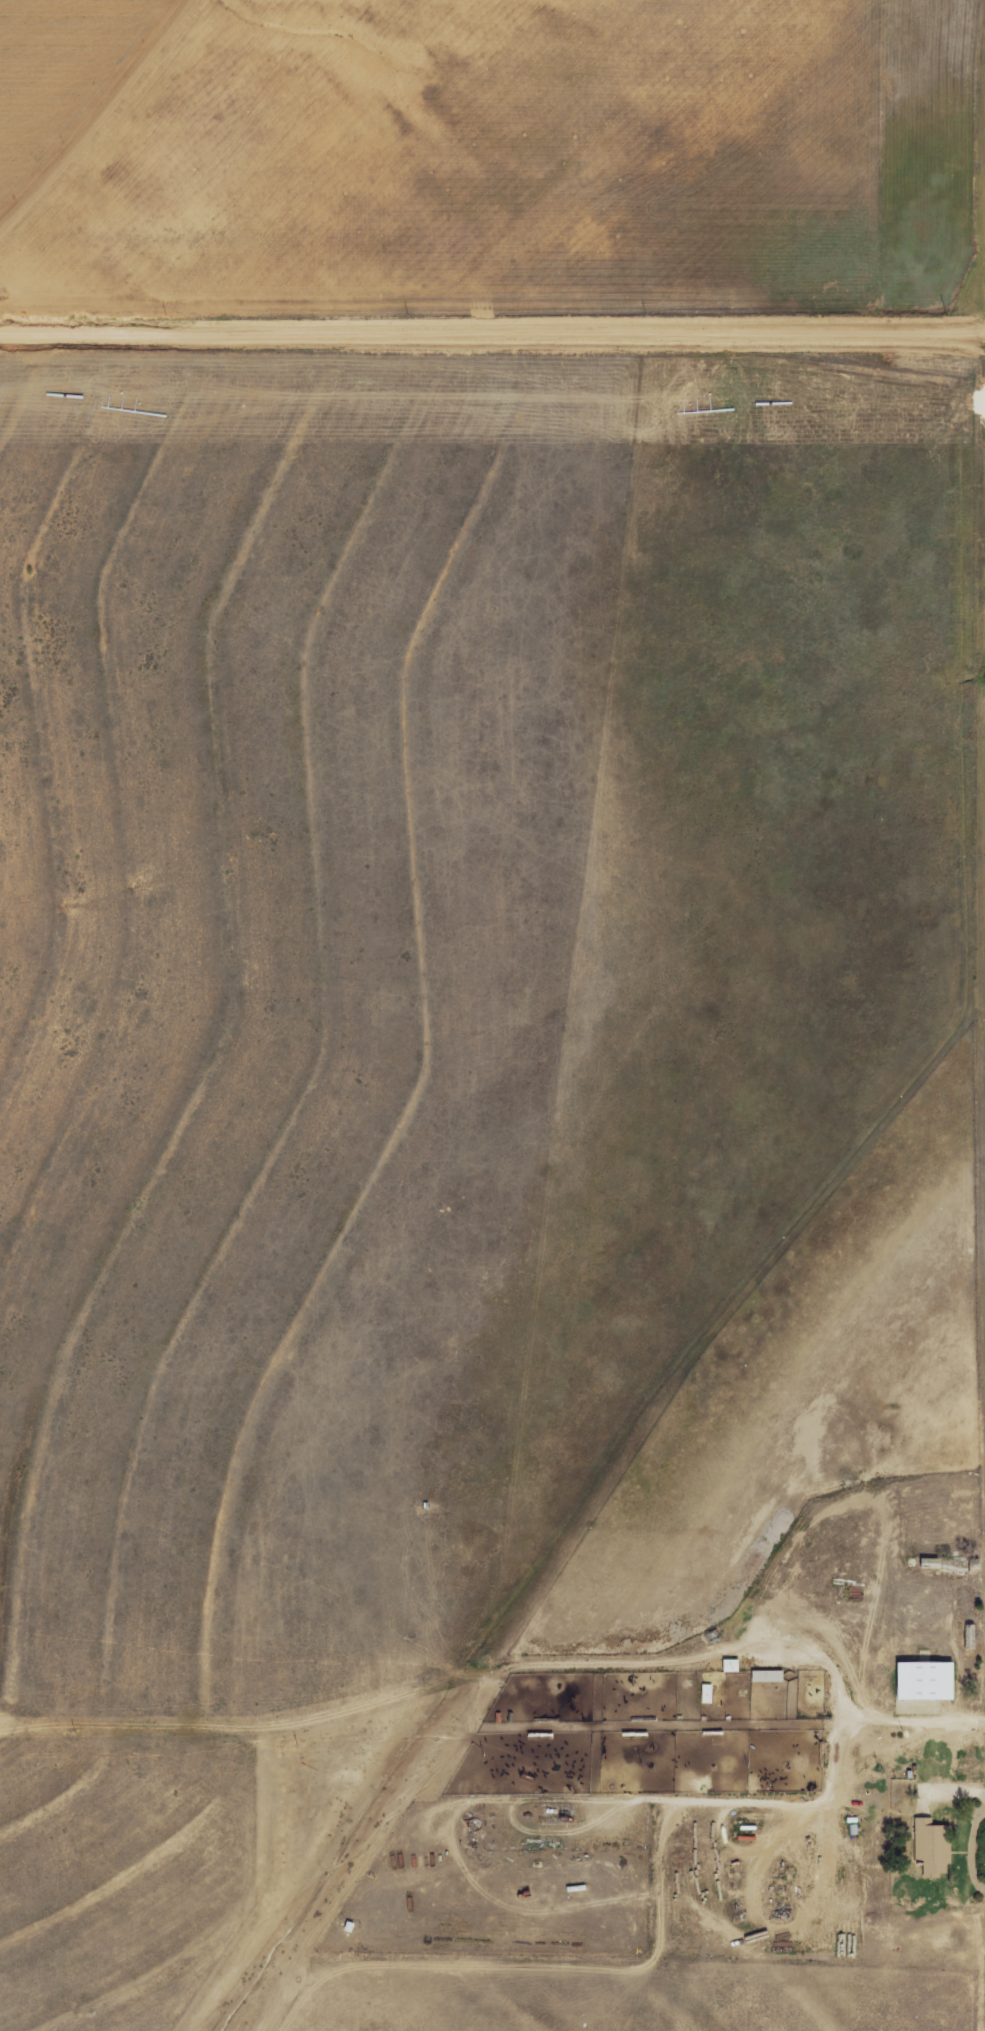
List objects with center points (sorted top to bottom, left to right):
road: (492, 343)
road: (771, 1645)
building: (928, 1681)
road: (692, 1801)

